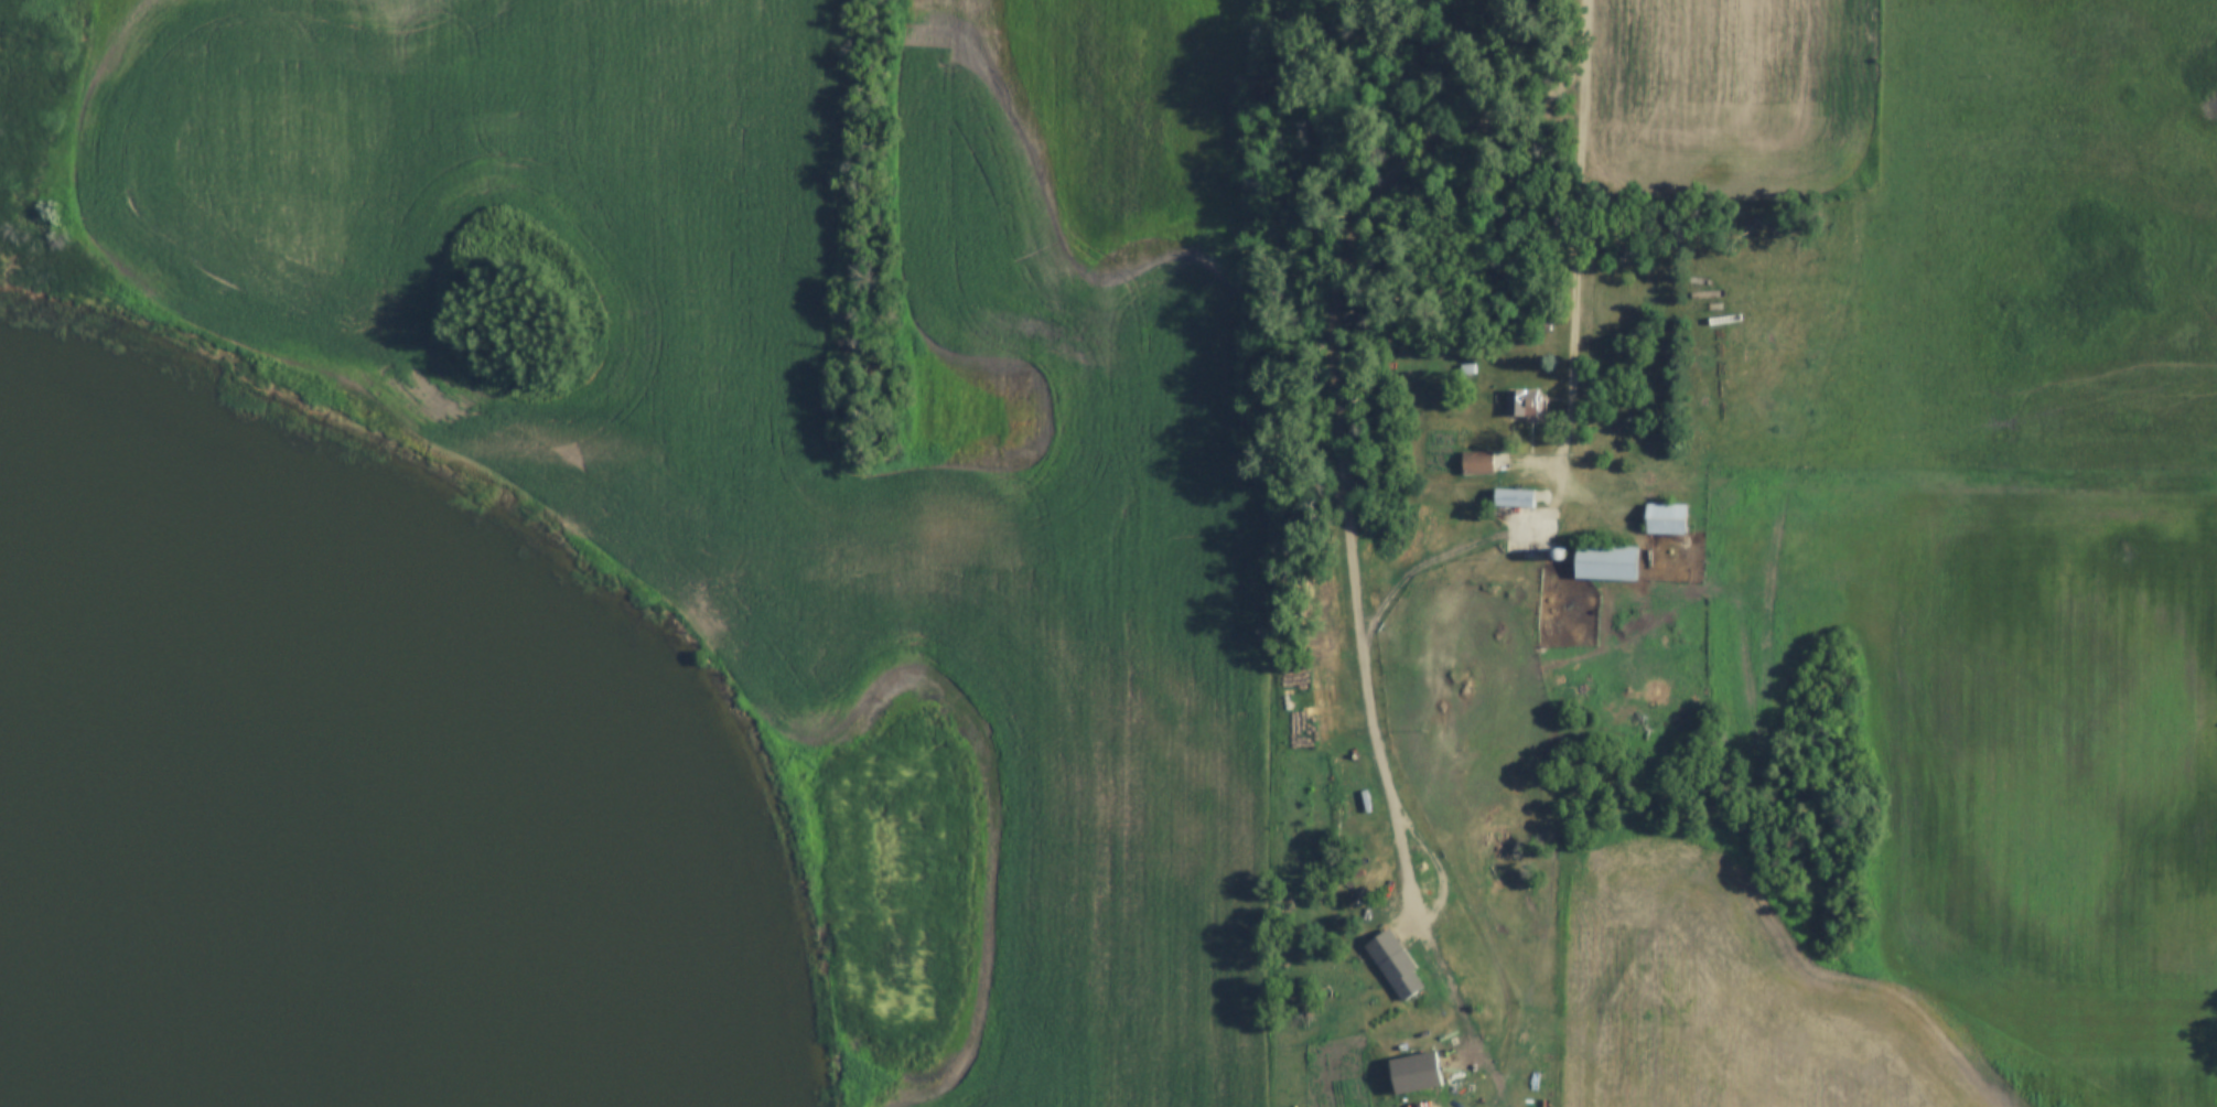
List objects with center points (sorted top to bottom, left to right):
road: (1581, 239)
building: (1465, 368)
building: (1520, 404)
building: (1475, 462)
road: (1345, 497)
building: (1511, 497)
building: (1664, 519)
building: (1548, 528)
building: (1560, 555)
silo: (1560, 555)
building: (1603, 561)
building: (1393, 966)
road: (1498, 977)

